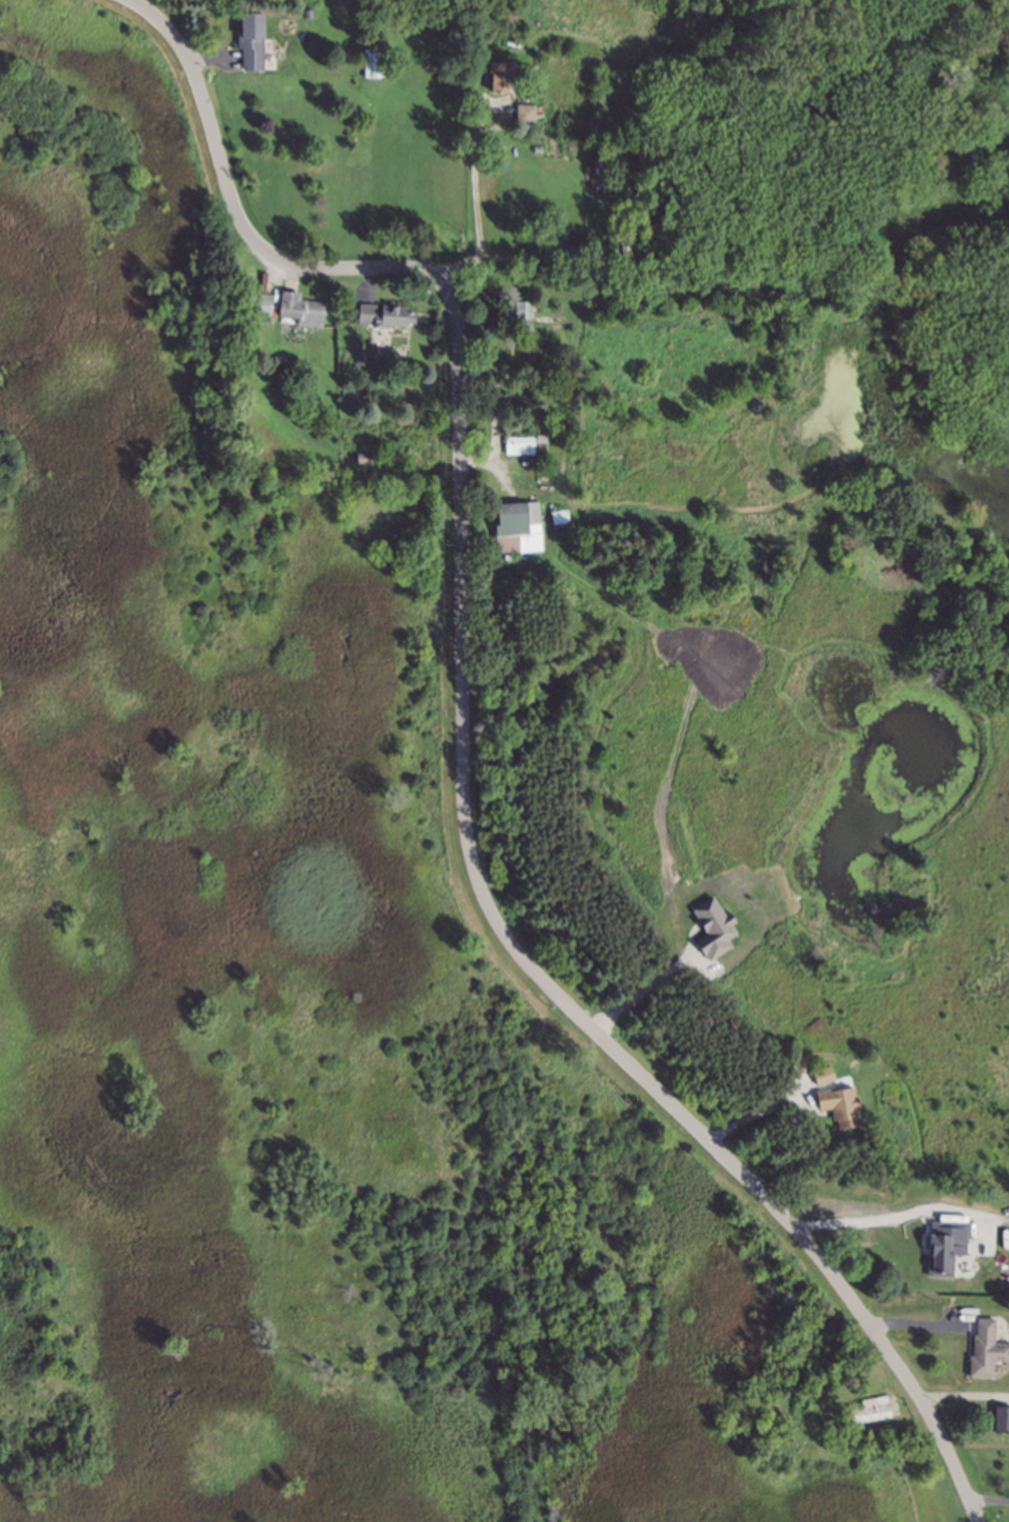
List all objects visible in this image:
building: (304, 10)
building: (509, 23)
building: (251, 33)
building: (372, 60)
building: (500, 73)
building: (469, 78)
building: (524, 93)
building: (526, 110)
building: (598, 170)
road: (468, 202)
building: (572, 247)
building: (256, 300)
building: (299, 304)
building: (516, 306)
building: (384, 313)
building: (354, 352)
building: (538, 435)
building: (516, 444)
building: (361, 454)
building: (558, 519)
building: (514, 526)
road: (466, 754)
building: (713, 928)
road: (638, 991)
building: (823, 1076)
building: (836, 1105)
road: (867, 1222)
building: (996, 1250)
building: (935, 1263)
building: (983, 1350)
building: (871, 1405)
building: (1000, 1418)

